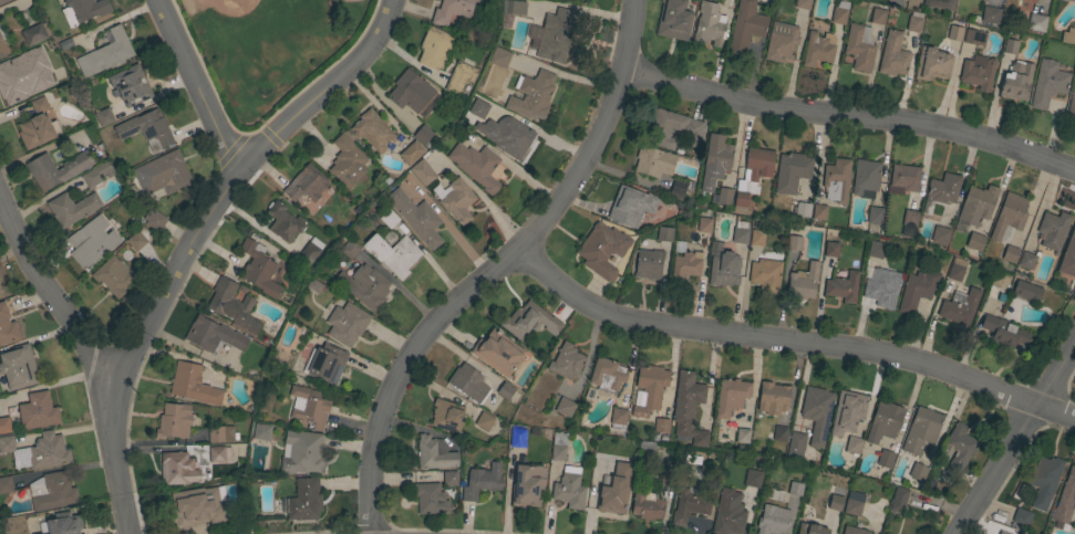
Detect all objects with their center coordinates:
building: (903, 0)
building: (1074, 0)
building: (3, 1)
building: (803, 3)
building: (939, 3)
building: (515, 8)
building: (83, 10)
building: (455, 10)
building: (312, 11)
building: (839, 12)
building: (990, 14)
building: (877, 15)
building: (674, 20)
building: (914, 22)
building: (1036, 22)
building: (709, 24)
building: (745, 27)
building: (954, 32)
building: (35, 33)
building: (555, 35)
building: (974, 36)
building: (1066, 38)
building: (63, 42)
building: (781, 42)
building: (1010, 46)
building: (2, 48)
building: (434, 48)
building: (859, 48)
building: (817, 49)
building: (105, 52)
building: (893, 55)
building: (499, 57)
building: (266, 62)
building: (932, 64)
building: (978, 72)
building: (19, 76)
building: (459, 77)
building: (1016, 81)
building: (1047, 83)
building: (130, 85)
road: (198, 86)
building: (411, 92)
building: (531, 95)
building: (1072, 102)
building: (475, 109)
road: (851, 116)
building: (103, 117)
building: (37, 125)
building: (146, 129)
building: (673, 129)
building: (372, 130)
building: (483, 130)
building: (422, 135)
building: (511, 138)
building: (411, 153)
building: (715, 160)
building: (347, 161)
building: (653, 161)
building: (476, 166)
building: (792, 171)
building: (422, 172)
building: (96, 174)
building: (163, 174)
building: (51, 176)
building: (752, 176)
building: (865, 178)
building: (902, 179)
building: (836, 180)
road: (230, 184)
building: (306, 184)
building: (680, 189)
building: (942, 189)
building: (724, 196)
building: (457, 200)
building: (976, 205)
building: (630, 207)
building: (71, 208)
building: (802, 210)
building: (818, 211)
building: (875, 214)
building: (1009, 214)
building: (416, 218)
building: (389, 219)
building: (155, 220)
building: (283, 221)
building: (908, 222)
building: (703, 224)
building: (740, 232)
building: (1051, 232)
building: (664, 234)
building: (939, 234)
building: (756, 238)
building: (135, 240)
building: (974, 241)
building: (794, 242)
building: (86, 245)
building: (350, 249)
building: (601, 249)
building: (830, 249)
building: (875, 249)
building: (309, 252)
building: (392, 254)
building: (1010, 254)
building: (1068, 256)
building: (1027, 260)
building: (648, 263)
building: (686, 264)
building: (722, 266)
road: (498, 268)
building: (258, 269)
building: (955, 269)
building: (113, 275)
building: (765, 275)
building: (803, 281)
building: (1000, 281)
building: (363, 285)
building: (843, 286)
building: (916, 289)
building: (882, 291)
building: (1026, 291)
building: (232, 305)
building: (959, 306)
building: (529, 321)
building: (345, 323)
building: (7, 326)
building: (1003, 332)
building: (213, 335)
road: (792, 339)
building: (497, 352)
road: (89, 357)
building: (566, 362)
building: (327, 364)
building: (18, 367)
building: (607, 374)
building: (468, 383)
building: (194, 385)
building: (650, 388)
building: (505, 390)
building: (731, 396)
building: (773, 398)
building: (308, 407)
building: (564, 407)
building: (688, 408)
building: (37, 411)
building: (847, 411)
building: (816, 412)
building: (446, 416)
building: (618, 418)
building: (174, 420)
building: (484, 421)
building: (883, 422)
building: (4, 426)
building: (661, 426)
building: (920, 430)
building: (261, 432)
building: (220, 433)
building: (779, 433)
building: (742, 436)
building: (517, 438)
road: (1017, 439)
building: (7, 444)
building: (796, 444)
building: (558, 446)
building: (852, 446)
building: (957, 449)
building: (48, 451)
building: (301, 452)
building: (219, 453)
building: (434, 453)
building: (885, 459)
building: (177, 468)
building: (917, 472)
building: (666, 477)
building: (449, 478)
building: (753, 479)
building: (1043, 480)
building: (480, 481)
building: (6, 484)
building: (527, 485)
building: (795, 489)
building: (215, 490)
building: (614, 490)
building: (569, 491)
building: (52, 492)
building: (774, 494)
building: (1065, 498)
building: (430, 499)
building: (898, 499)
building: (302, 500)
building: (691, 503)
building: (835, 503)
building: (854, 503)
building: (647, 504)
building: (728, 513)
building: (185, 514)
building: (1021, 516)
building: (773, 520)
building: (63, 524)
building: (810, 528)
building: (852, 531)
building: (883, 533)
building: (998, 533)
building: (1002, 533)

